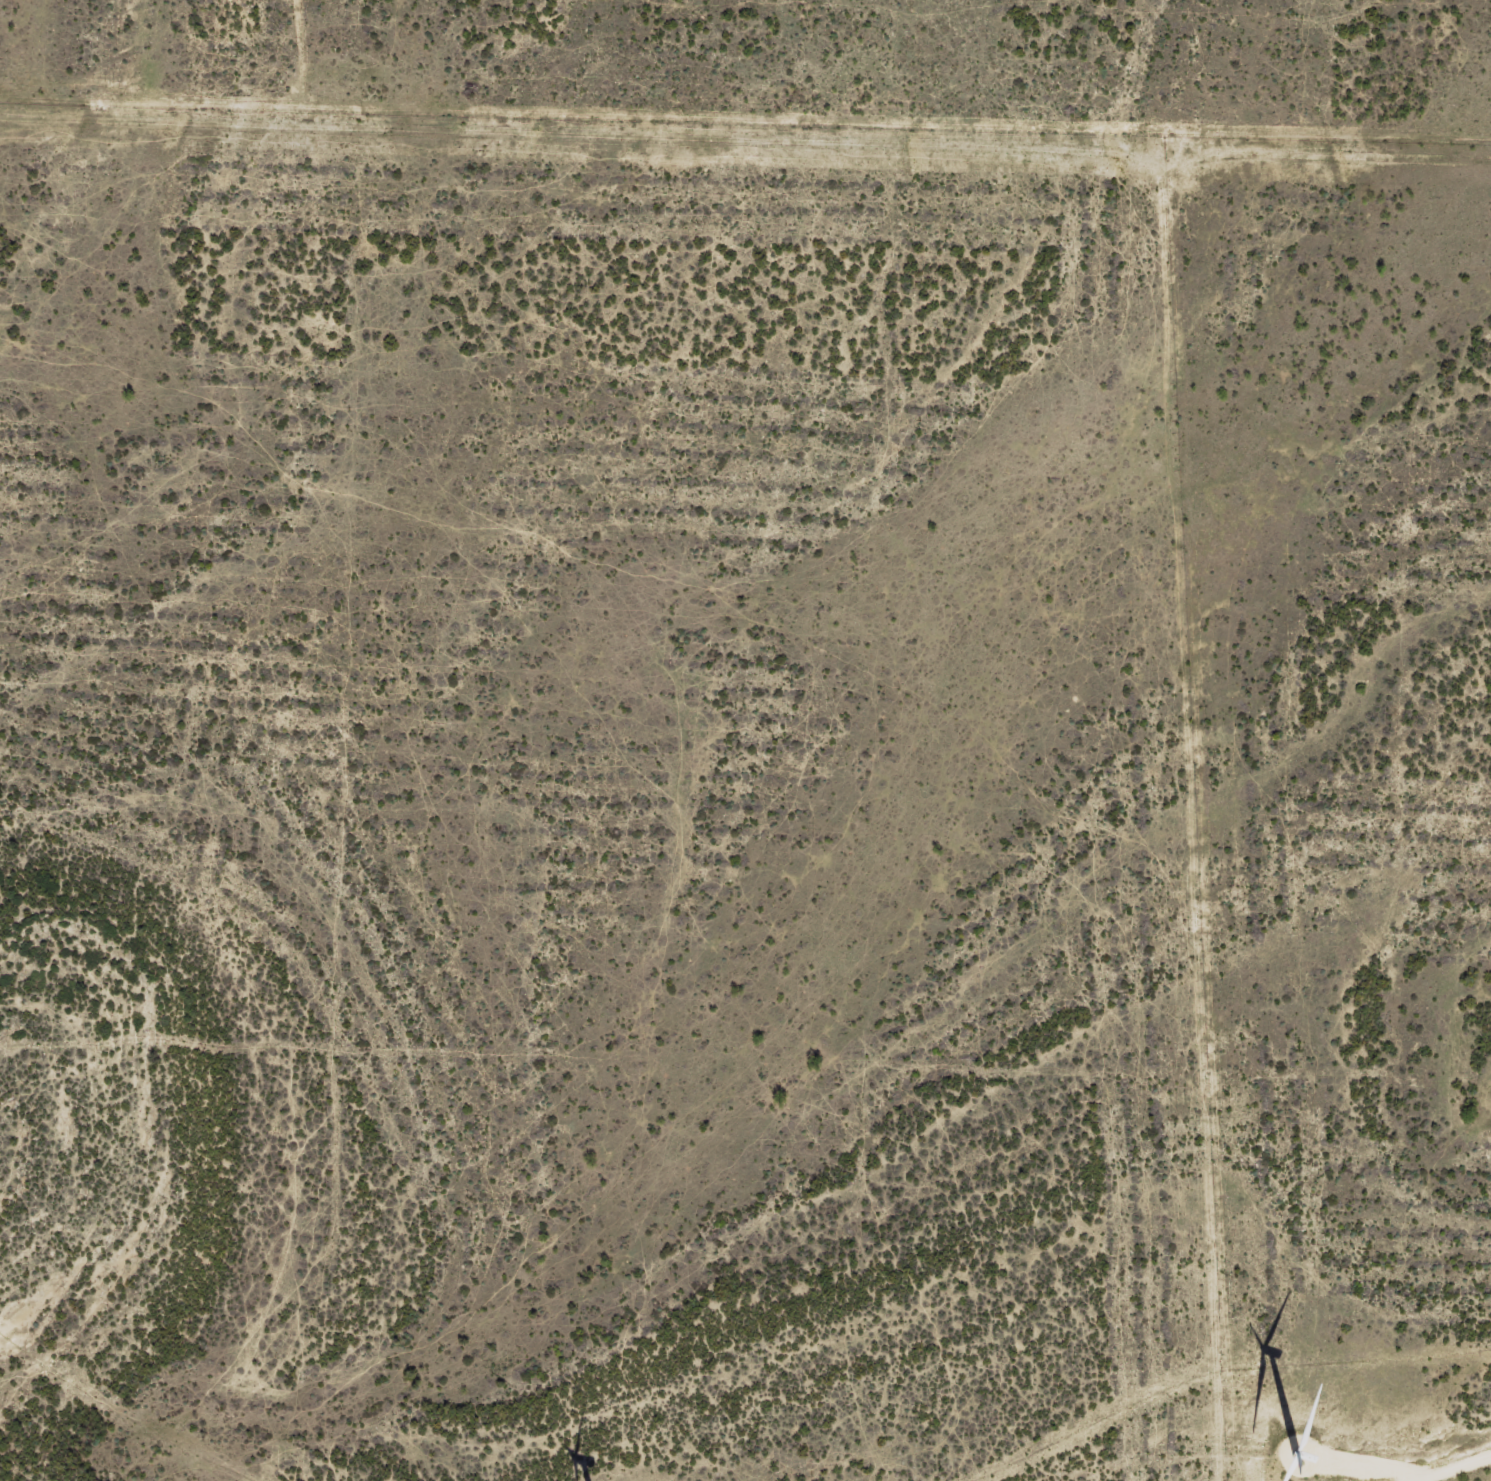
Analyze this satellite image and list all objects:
wind turbine: (1288, 1464)
road: (1461, 1472)

